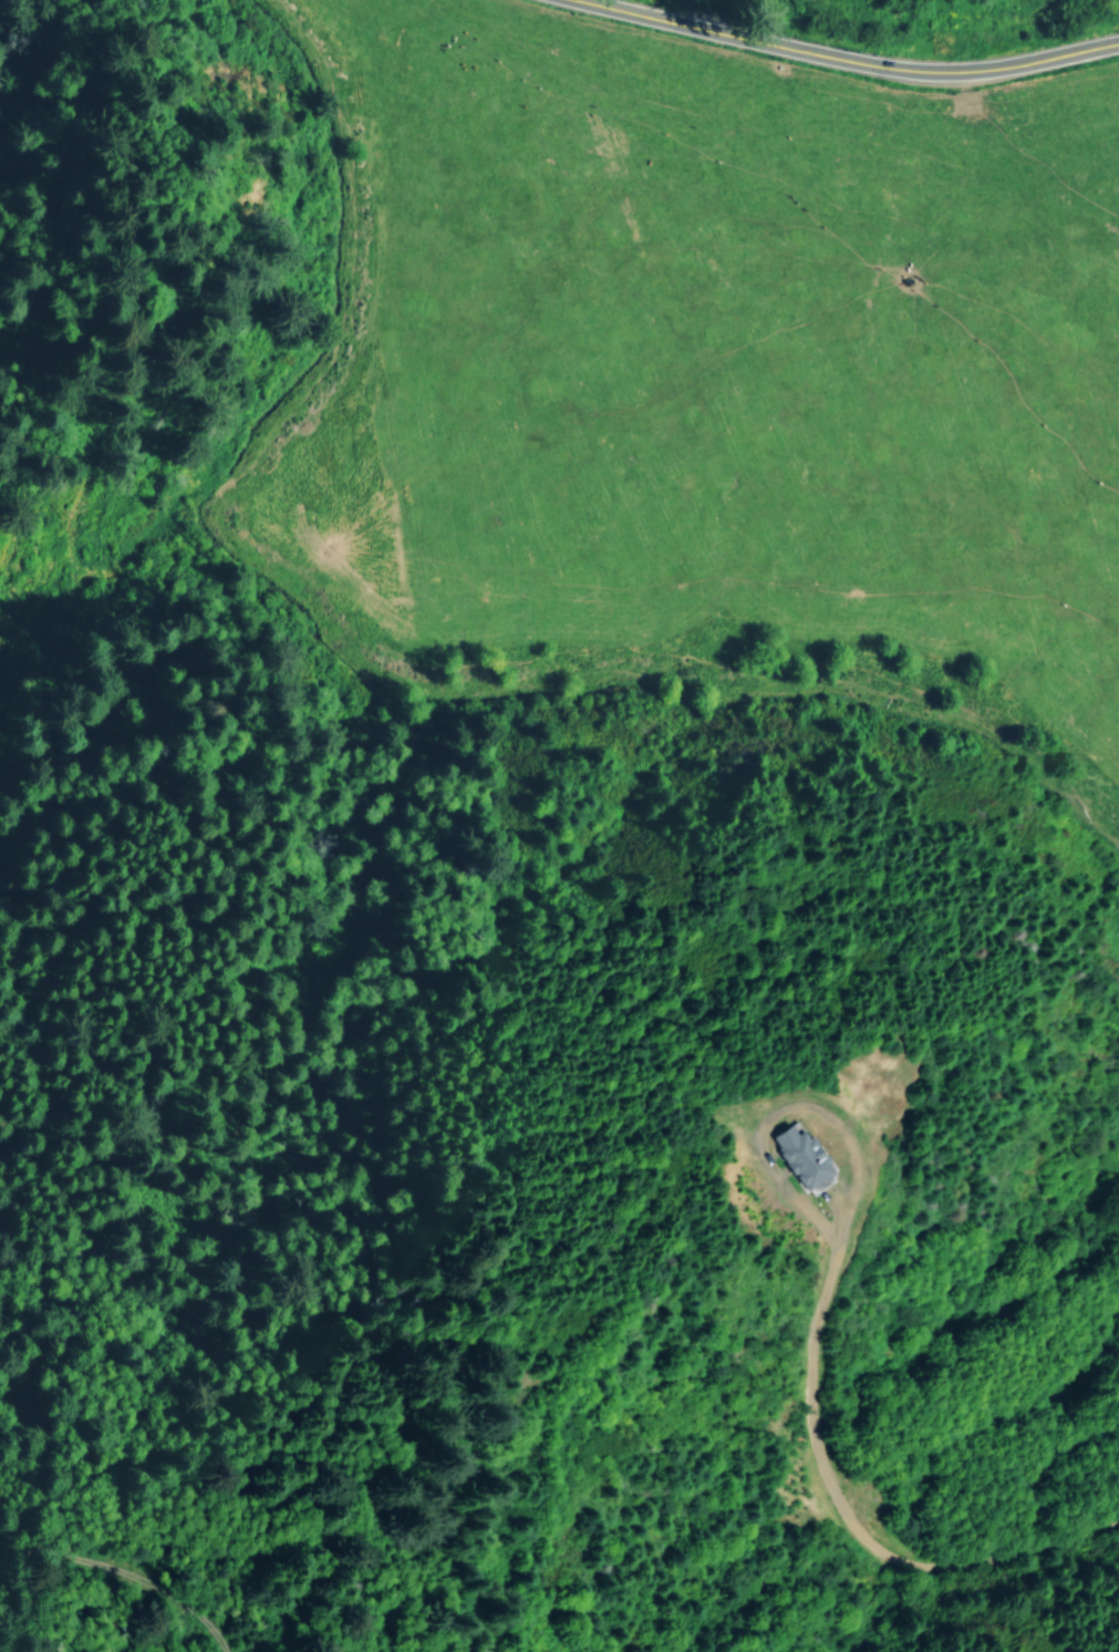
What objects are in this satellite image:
road: (851, 55)
crop: (677, 378)
building: (798, 1154)
road: (8, 1247)
road: (124, 1512)

